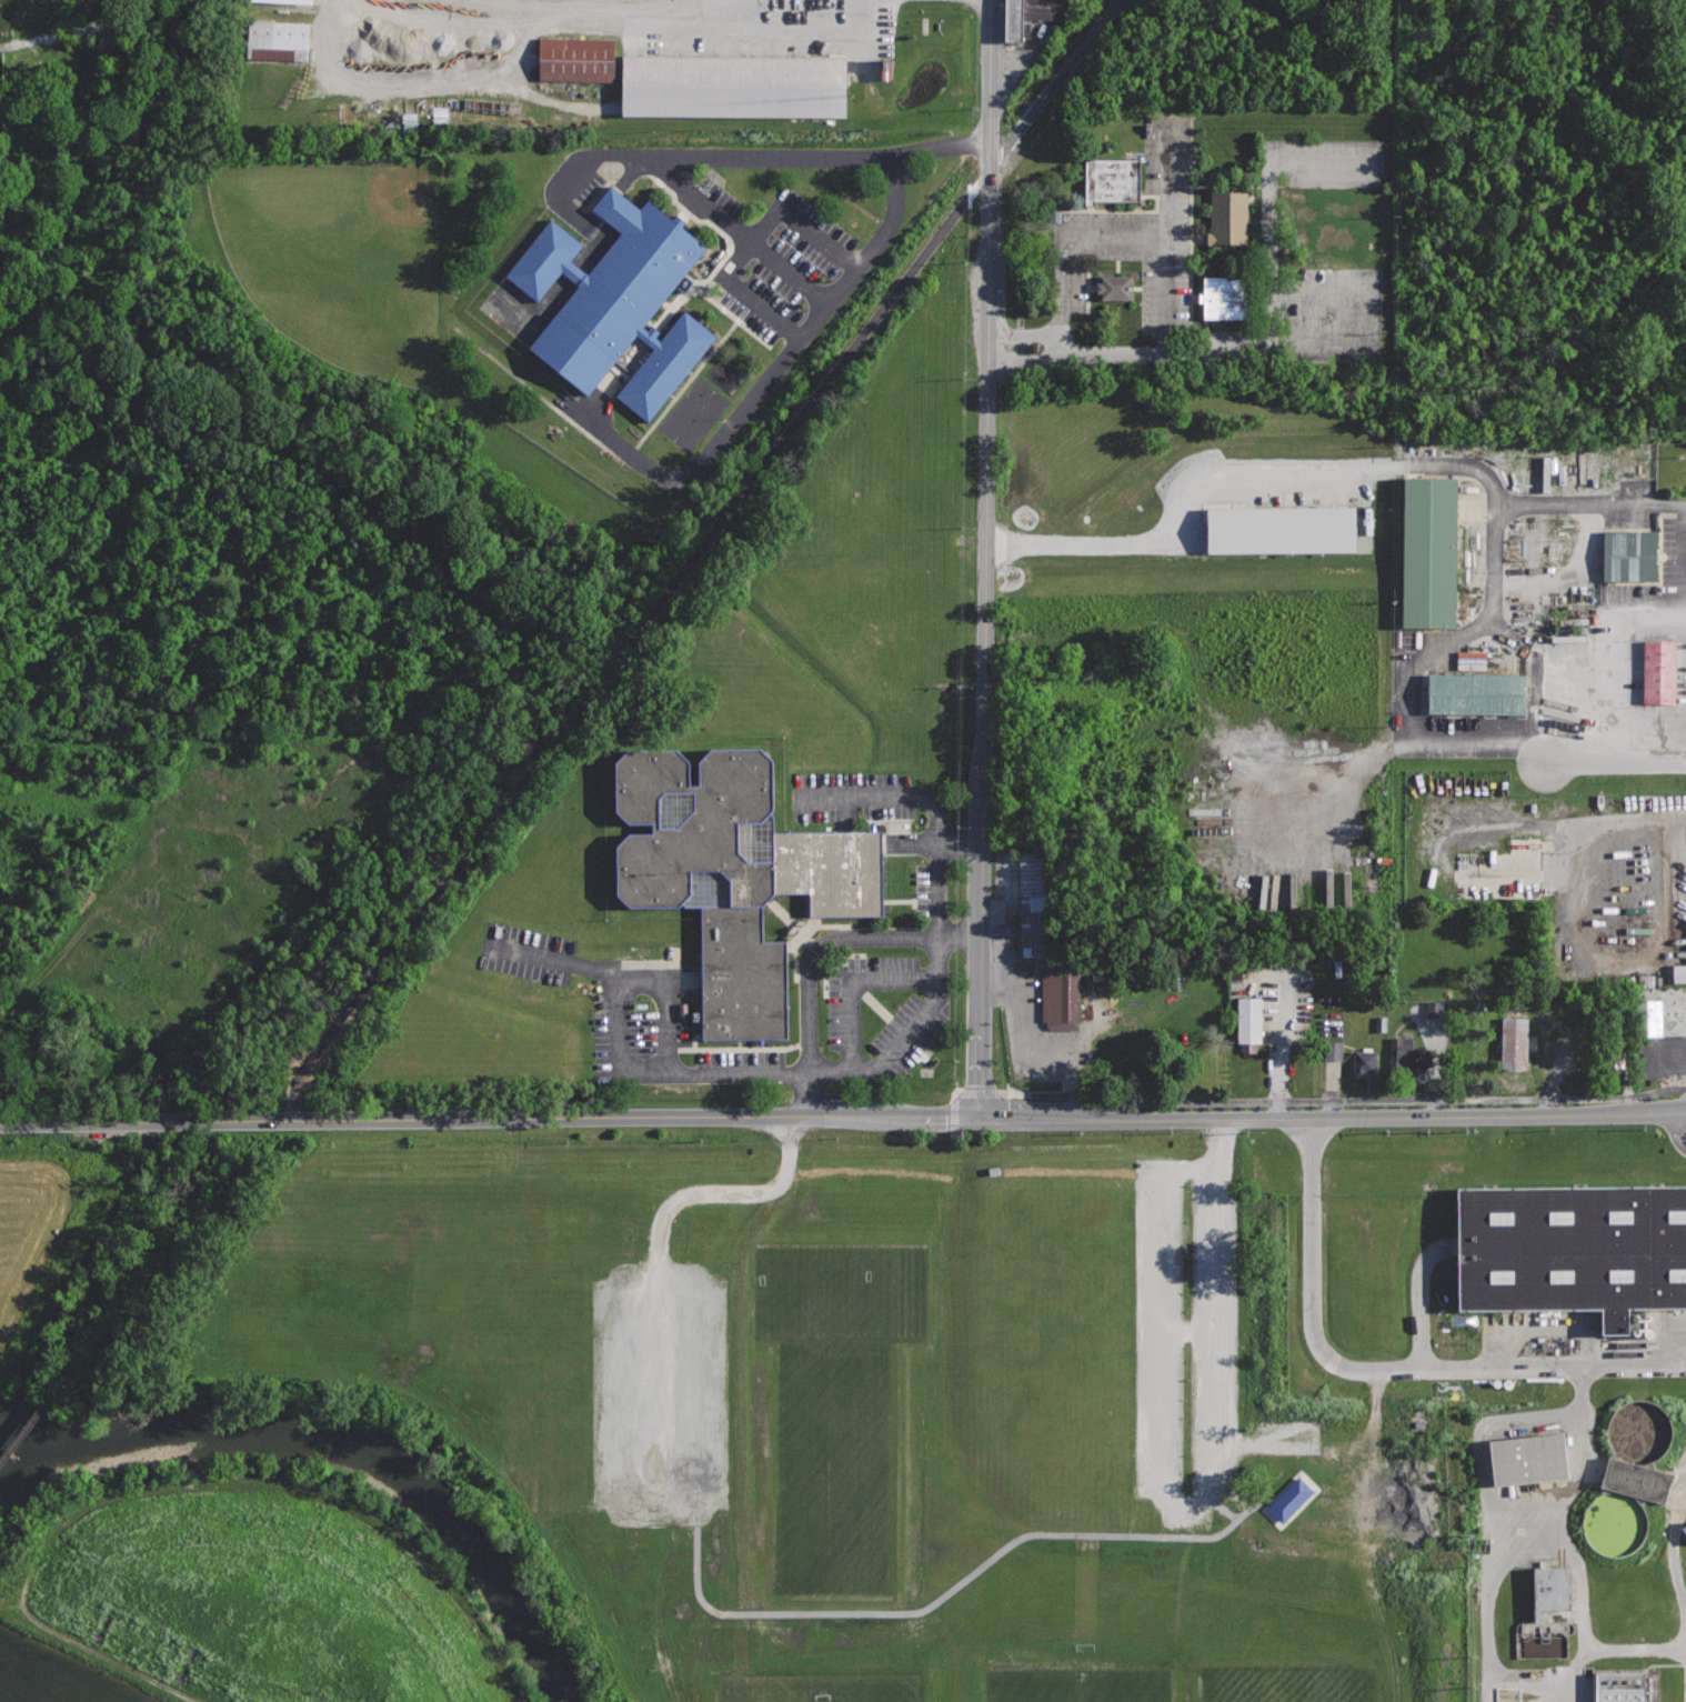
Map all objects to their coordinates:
building: (280, 1)
parking lot: (975, 6)
road: (626, 14)
building: (1026, 14)
parking lot: (736, 28)
parking lot: (1025, 38)
road: (877, 40)
building: (275, 41)
road: (773, 41)
building: (573, 60)
road: (428, 84)
building: (734, 84)
road: (558, 101)
road: (712, 156)
building: (1112, 178)
building: (1228, 217)
road: (736, 228)
parking lot: (1121, 232)
road: (1062, 238)
road: (755, 243)
road: (1220, 259)
park: (341, 260)
parking lot: (737, 264)
building: (1114, 287)
building: (1225, 297)
building: (619, 301)
road: (1174, 326)
road: (1266, 344)
road: (615, 379)
road: (762, 390)
road: (1313, 471)
parking lot: (1356, 502)
road: (1533, 504)
building: (1278, 529)
road: (712, 535)
road: (1466, 538)
building: (1425, 551)
building: (1628, 554)
road: (985, 558)
parking lot: (1590, 564)
road: (1682, 565)
road: (1580, 584)
road: (1493, 628)
road: (1195, 647)
road: (1402, 647)
road: (1595, 649)
building: (1469, 660)
building: (1658, 670)
parking lot: (1615, 679)
parking lot: (1465, 690)
building: (1476, 692)
road: (1640, 731)
road: (1616, 762)
road: (1415, 812)
road: (931, 843)
road: (1499, 854)
parking lot: (1554, 864)
building: (733, 872)
building: (1033, 902)
road: (1011, 933)
parking lot: (889, 942)
road: (820, 950)
road: (549, 961)
road: (1612, 965)
building: (1678, 970)
road: (668, 975)
road: (936, 975)
road: (852, 984)
road: (1664, 991)
building: (1062, 995)
parking lot: (1037, 1009)
building: (1647, 1018)
building: (1250, 1019)
building: (1378, 1024)
parking lot: (1666, 1030)
building: (1513, 1042)
building: (1331, 1050)
building: (1401, 1051)
road: (1025, 1054)
road: (1664, 1055)
building: (1365, 1063)
building: (1610, 1064)
building: (1461, 1073)
road: (960, 1093)
road: (981, 1093)
road: (295, 1095)
road: (955, 1097)
road: (1343, 1102)
road: (955, 1115)
road: (1333, 1118)
road: (490, 1119)
road: (1678, 1130)
road: (955, 1134)
building: (1573, 1249)
road: (658, 1275)
road: (1423, 1295)
park: (841, 1298)
road: (1184, 1329)
parking lot: (1192, 1336)
road: (1384, 1370)
wastewater plant: (1517, 1370)
parking lot: (666, 1371)
building: (1639, 1430)
storage tank: (1639, 1430)
road: (1268, 1439)
river: (350, 1444)
building: (1528, 1458)
park: (834, 1475)
building: (1635, 1479)
building: (1289, 1500)
road: (1181, 1502)
road: (1220, 1505)
building: (1615, 1523)
storage tank: (1615, 1523)
building: (1683, 1531)
road: (1536, 1534)
road: (1673, 1545)
road: (952, 1589)
building: (1547, 1614)
road: (1586, 1660)
park: (1070, 1682)
park: (1312, 1683)
park: (817, 1685)
building: (1620, 1686)

